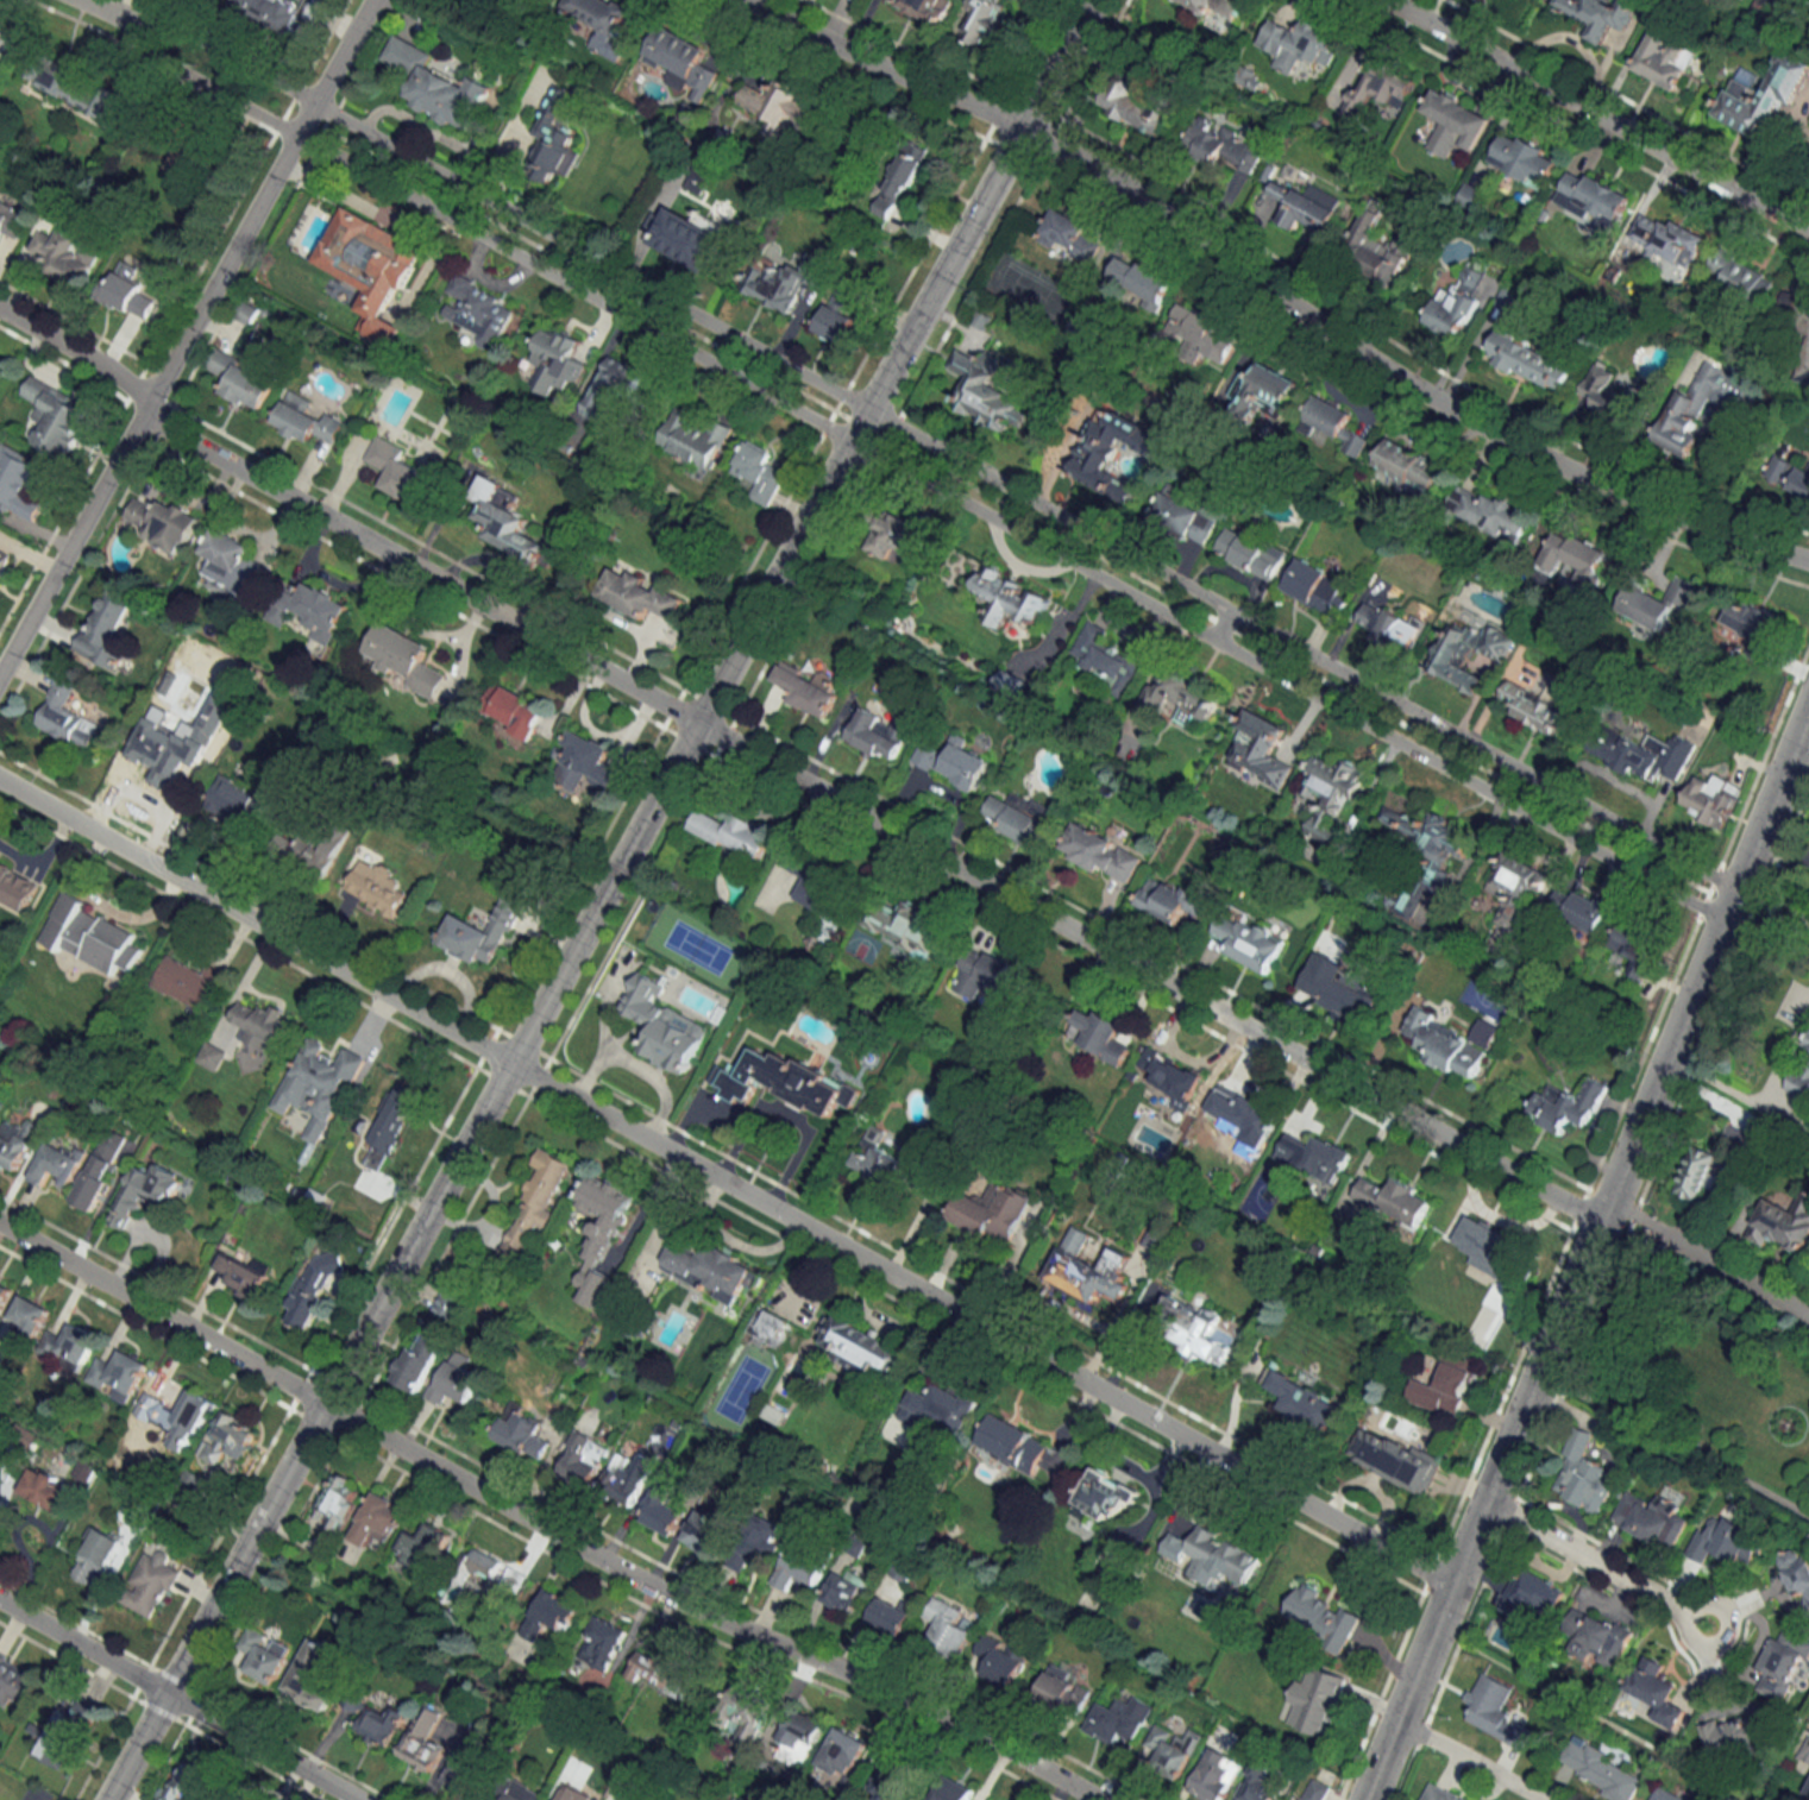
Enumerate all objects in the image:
building: (1208, 6)
building: (924, 8)
road: (98, 10)
building: (270, 12)
building: (1601, 14)
building: (981, 20)
building: (603, 24)
building: (4, 40)
building: (1300, 44)
building: (1665, 58)
building: (680, 62)
building: (70, 86)
building: (438, 86)
building: (1378, 88)
building: (1763, 95)
building: (777, 105)
building: (1137, 106)
road: (1597, 115)
building: (1455, 122)
building: (554, 139)
building: (1212, 141)
building: (1525, 159)
building: (698, 181)
building: (897, 184)
building: (1470, 196)
building: (1593, 199)
building: (1308, 207)
building: (8, 221)
building: (1068, 235)
building: (1662, 235)
building: (685, 238)
building: (1381, 244)
building: (63, 256)
building: (371, 268)
building: (1741, 277)
building: (1143, 281)
building: (786, 282)
road: (1271, 290)
building: (125, 295)
building: (1458, 304)
building: (478, 308)
building: (1792, 314)
building: (835, 320)
building: (1198, 333)
road: (184, 335)
road: (77, 348)
building: (0, 359)
building: (558, 360)
building: (1531, 360)
building: (240, 380)
building: (611, 385)
building: (1268, 391)
building: (1607, 394)
building: (985, 395)
building: (1698, 407)
building: (57, 416)
building: (304, 420)
building: (1334, 423)
building: (696, 439)
road: (934, 447)
building: (1099, 451)
building: (1409, 465)
building: (396, 470)
building: (759, 472)
building: (1789, 474)
road: (917, 479)
building: (20, 483)
building: (1490, 514)
building: (1183, 516)
building: (163, 522)
building: (504, 522)
building: (891, 536)
building: (1249, 553)
building: (1574, 556)
building: (4, 559)
building: (232, 559)
building: (1315, 587)
building: (637, 594)
building: (1010, 597)
building: (1656, 603)
building: (309, 606)
building: (1750, 618)
building: (1390, 627)
building: (105, 630)
building: (1468, 653)
building: (404, 657)
building: (1105, 659)
building: (1011, 685)
building: (806, 688)
building: (1173, 692)
building: (1533, 705)
building: (513, 710)
building: (67, 717)
building: (879, 734)
building: (1260, 754)
building: (164, 756)
building: (1652, 756)
building: (585, 763)
building: (951, 763)
building: (1332, 795)
building: (1711, 799)
building: (238, 803)
road: (872, 817)
building: (1022, 817)
building: (734, 833)
building: (1426, 839)
road: (1755, 842)
building: (312, 854)
building: (1101, 854)
building: (17, 886)
building: (822, 886)
building: (1516, 886)
building: (377, 889)
road: (1776, 896)
road: (599, 900)
building: (1174, 900)
building: (1411, 901)
building: (1579, 910)
building: (906, 926)
building: (483, 931)
building: (89, 936)
building: (1250, 942)
building: (1635, 949)
building: (987, 975)
building: (188, 983)
building: (1337, 989)
building: (260, 1024)
building: (664, 1026)
building: (1099, 1034)
building: (1446, 1045)
building: (1808, 1046)
building: (212, 1056)
building: (1169, 1072)
building: (784, 1082)
building: (1799, 1082)
building: (319, 1084)
road: (1651, 1096)
road: (1760, 1097)
building: (1566, 1107)
building: (1240, 1110)
building: (394, 1118)
building: (15, 1143)
building: (1315, 1157)
building: (880, 1162)
building: (58, 1163)
building: (102, 1170)
building: (1697, 1172)
road: (726, 1183)
building: (150, 1191)
building: (1394, 1200)
building: (535, 1206)
building: (993, 1211)
building: (1782, 1222)
building: (601, 1231)
building: (1487, 1238)
building: (1154, 1242)
road: (1708, 1255)
building: (710, 1266)
building: (1086, 1269)
building: (243, 1273)
building: (312, 1289)
building: (4, 1292)
building: (450, 1303)
building: (29, 1315)
building: (1194, 1324)
building: (774, 1329)
building: (70, 1345)
building: (867, 1348)
building: (416, 1361)
building: (119, 1374)
building: (456, 1379)
building: (1444, 1387)
building: (1305, 1401)
building: (940, 1408)
building: (189, 1421)
building: (230, 1436)
building: (522, 1437)
building: (1013, 1442)
road: (1672, 1447)
building: (132, 1449)
building: (1394, 1458)
building: (584, 1460)
building: (1583, 1474)
building: (628, 1477)
building: (54, 1490)
building: (0, 1498)
building: (1101, 1499)
building: (339, 1503)
building: (661, 1510)
road: (1483, 1510)
building: (1652, 1519)
building: (377, 1521)
road: (541, 1525)
building: (708, 1527)
building: (761, 1538)
building: (1727, 1542)
building: (421, 1546)
building: (99, 1557)
building: (1220, 1557)
building: (800, 1568)
building: (902, 1569)
road: (1609, 1572)
building: (1796, 1573)
building: (488, 1579)
building: (150, 1584)
building: (848, 1587)
building: (1527, 1592)
building: (551, 1615)
building: (891, 1615)
building: (1320, 1617)
building: (949, 1625)
building: (1601, 1641)
building: (602, 1642)
building: (264, 1655)
building: (1000, 1660)
building: (1782, 1664)
building: (662, 1672)
building: (312, 1675)
building: (15, 1681)
building: (1062, 1689)
building: (1657, 1695)
road: (176, 1699)
building: (1320, 1707)
building: (1495, 1711)
building: (747, 1713)
building: (1119, 1719)
building: (381, 1724)
building: (1735, 1732)
building: (65, 1733)
building: (797, 1737)
building: (422, 1739)
building: (1172, 1750)
building: (841, 1752)
road: (1472, 1757)
building: (466, 1766)
building: (1602, 1770)
building: (1214, 1775)
building: (184, 1785)
building: (893, 1785)
building: (1258, 1785)
building: (954, 1789)
building: (1312, 1789)
building: (519, 1790)
building: (570, 1793)
building: (1439, 1793)
building: (1663, 1794)
building: (243, 1796)

